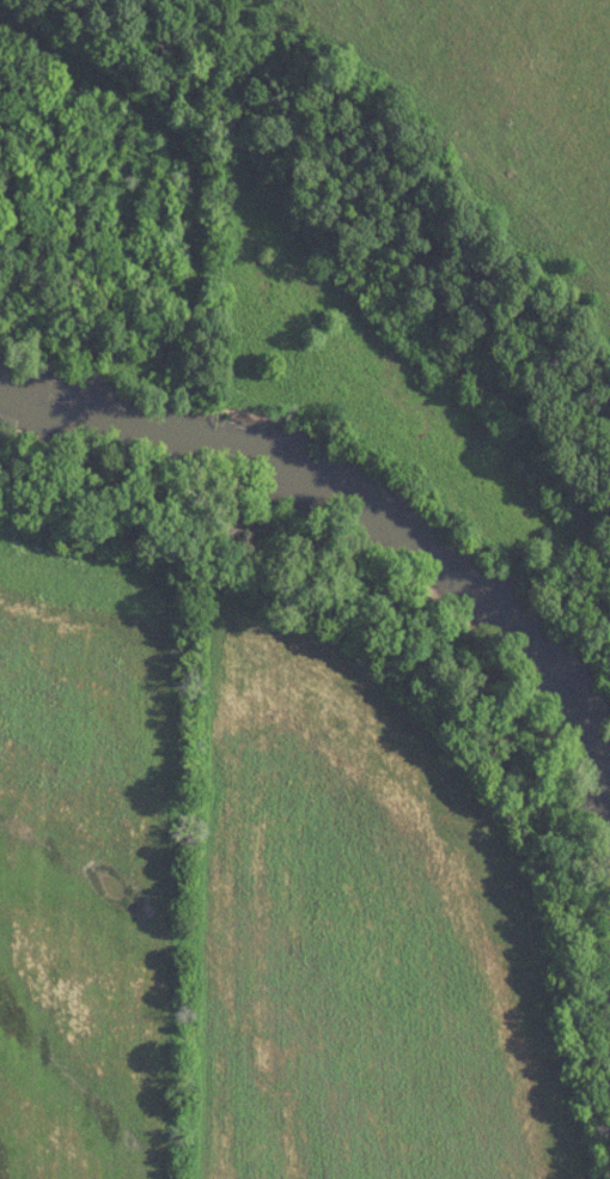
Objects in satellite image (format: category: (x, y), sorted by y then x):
river: (359, 508)

